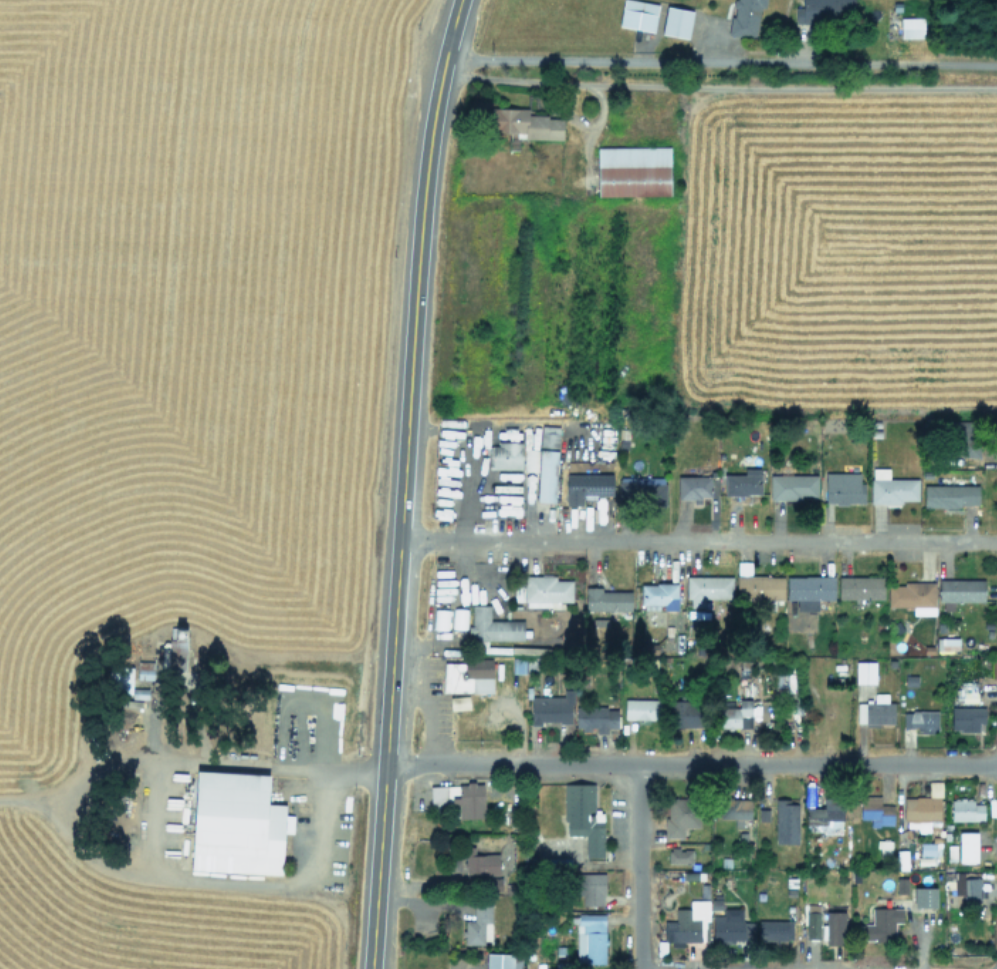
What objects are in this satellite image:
building: (824, 10)
building: (638, 15)
building: (745, 17)
building: (676, 22)
building: (911, 27)
road: (720, 61)
road: (718, 88)
building: (633, 171)
crop: (760, 219)
building: (505, 455)
building: (530, 459)
building: (547, 463)
crop: (160, 468)
road: (402, 482)
building: (743, 482)
building: (587, 486)
building: (793, 486)
building: (693, 487)
building: (843, 488)
building: (891, 488)
building: (641, 489)
building: (950, 495)
road: (698, 541)
building: (759, 587)
building: (860, 587)
building: (707, 588)
building: (545, 590)
building: (809, 590)
building: (959, 591)
building: (659, 594)
building: (913, 596)
building: (606, 599)
building: (492, 625)
building: (946, 643)
building: (176, 647)
building: (891, 663)
building: (518, 665)
building: (864, 672)
building: (469, 678)
building: (910, 680)
building: (121, 681)
building: (967, 692)
building: (551, 707)
building: (641, 708)
building: (875, 709)
building: (688, 712)
building: (735, 715)
building: (594, 717)
building: (966, 718)
building: (921, 720)
road: (690, 763)
road: (284, 764)
building: (460, 798)
building: (923, 807)
building: (734, 809)
building: (875, 810)
building: (965, 810)
building: (763, 814)
building: (680, 816)
building: (826, 816)
building: (583, 817)
building: (236, 824)
building: (967, 847)
building: (884, 848)
building: (927, 848)
building: (951, 852)
building: (680, 855)
building: (480, 862)
road: (638, 866)
road: (214, 883)
building: (901, 885)
building: (590, 888)
building: (924, 896)
building: (812, 921)
building: (478, 923)
building: (882, 924)
building: (834, 928)
building: (731, 930)
building: (774, 930)
building: (590, 938)
building: (498, 961)

